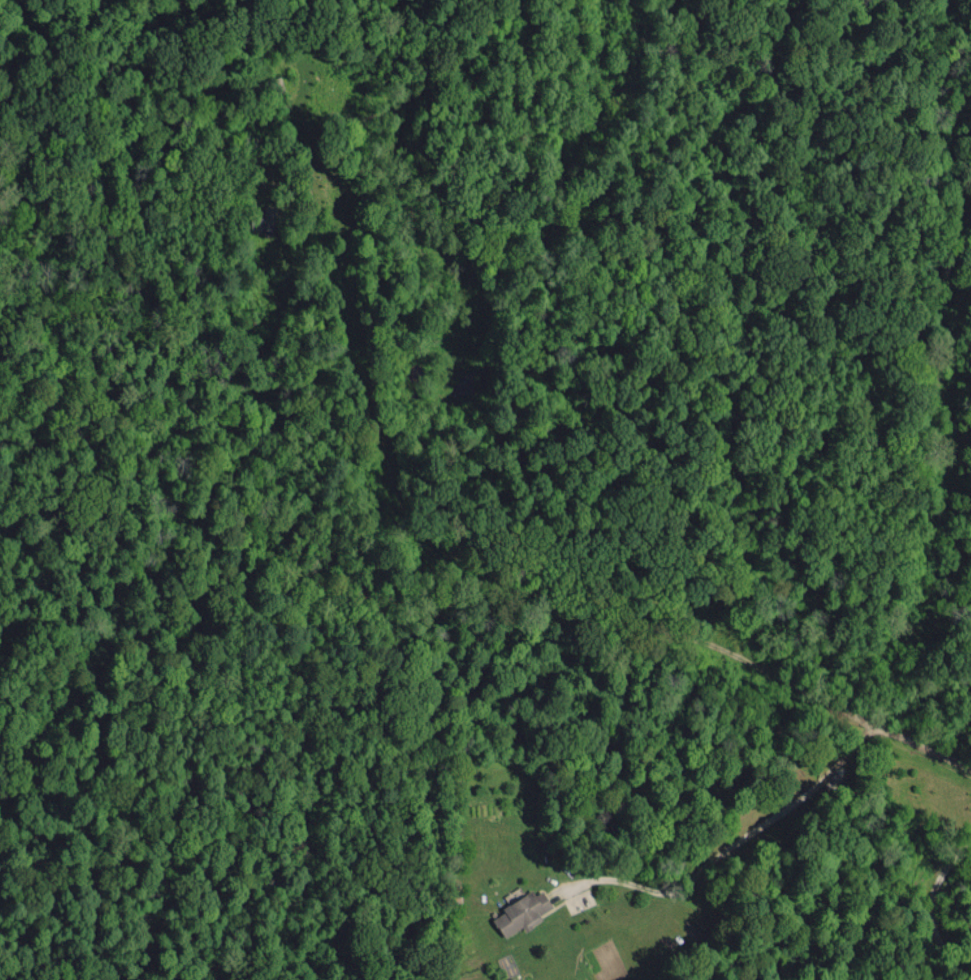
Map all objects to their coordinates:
road: (829, 701)
road: (730, 841)
road: (929, 905)
building: (523, 911)

